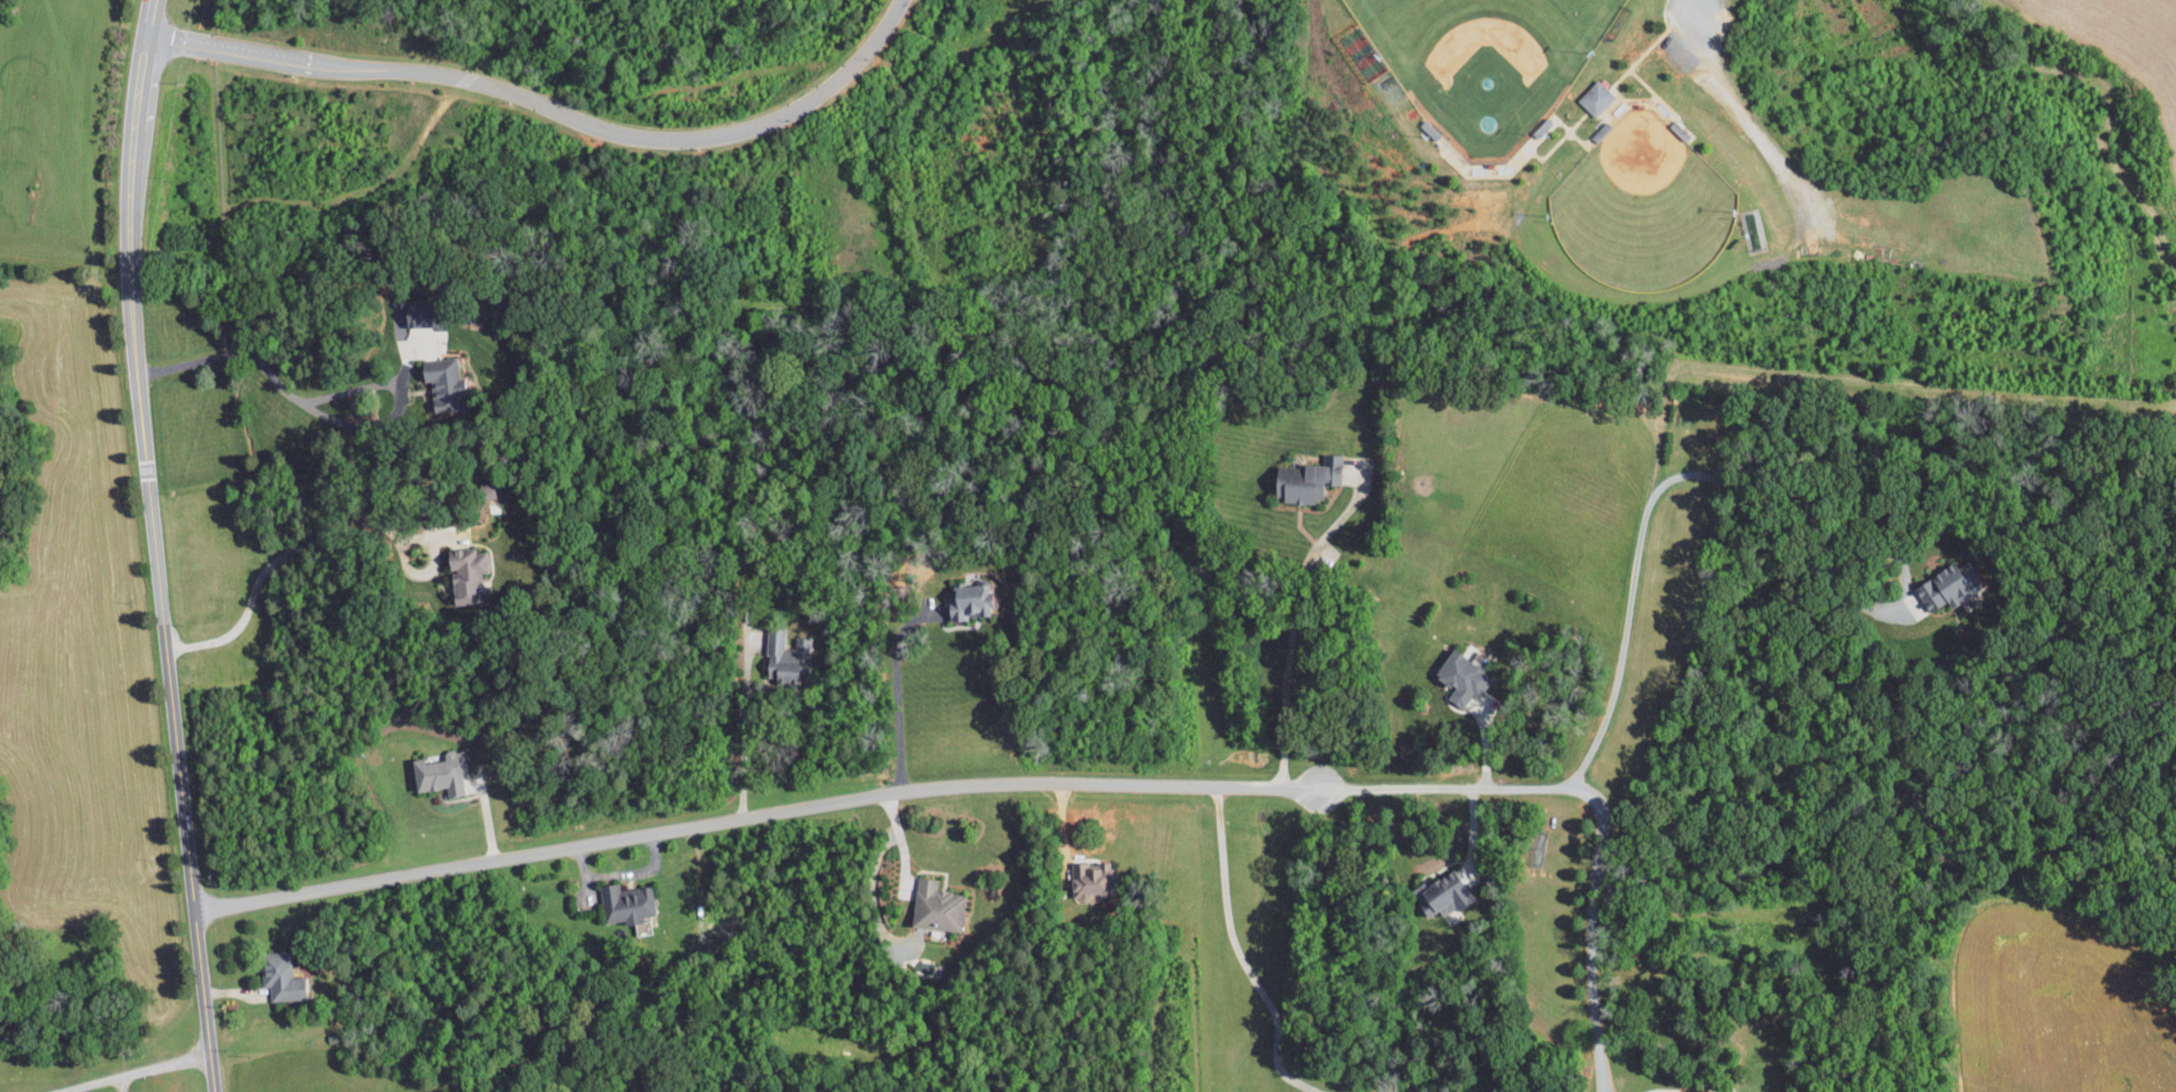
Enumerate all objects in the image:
road: (1696, 5)
park: (1484, 61)
road: (1617, 80)
building: (1595, 97)
road: (549, 106)
road: (132, 186)
park: (1641, 204)
building: (444, 384)
road: (322, 397)
road: (1708, 476)
building: (1306, 480)
road: (281, 557)
building: (465, 574)
building: (1943, 586)
building: (968, 600)
road: (1294, 625)
building: (788, 657)
building: (1463, 677)
road: (897, 688)
road: (744, 730)
road: (176, 733)
building: (440, 771)
road: (879, 795)
road: (1474, 833)
road: (903, 842)
building: (1091, 880)
building: (1444, 893)
building: (627, 902)
building: (936, 905)
road: (1591, 930)
road: (1241, 955)
building: (281, 976)
road: (133, 1072)
road: (122, 1083)

